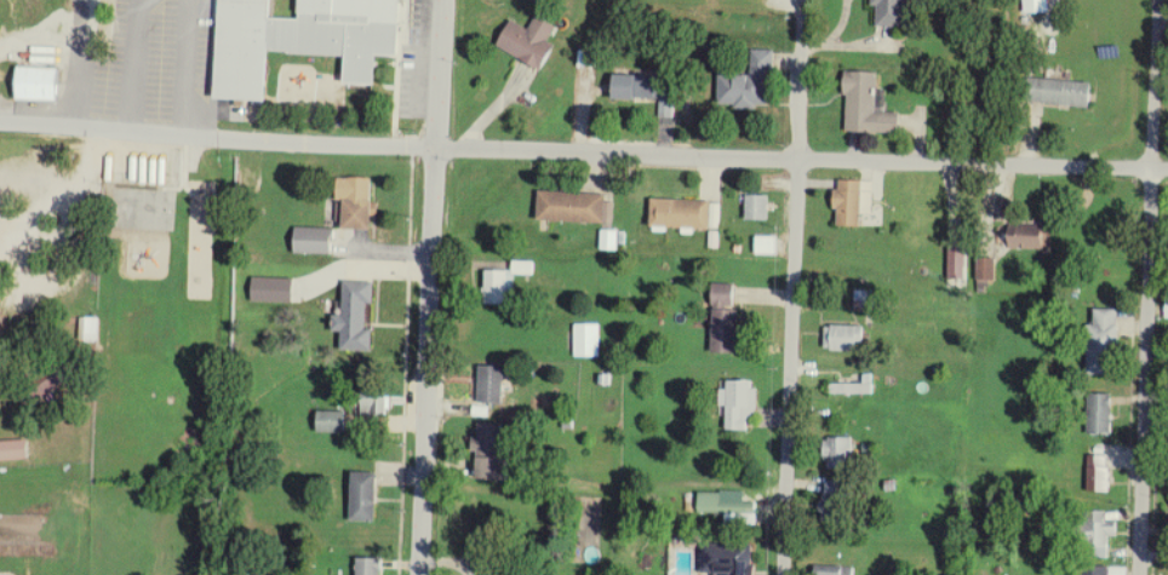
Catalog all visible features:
building: (144, 11)
building: (894, 13)
building: (302, 39)
building: (143, 40)
building: (532, 40)
building: (39, 82)
building: (750, 82)
building: (642, 85)
building: (155, 90)
building: (1060, 91)
building: (869, 104)
road: (219, 134)
road: (619, 151)
road: (983, 162)
building: (361, 202)
building: (849, 202)
building: (574, 206)
building: (757, 207)
building: (682, 213)
building: (1029, 235)
building: (316, 238)
building: (767, 245)
building: (989, 271)
building: (500, 286)
road: (434, 287)
road: (795, 287)
road: (1149, 287)
building: (267, 288)
building: (357, 315)
building: (726, 317)
building: (91, 328)
building: (844, 338)
building: (588, 339)
building: (1106, 343)
park: (50, 351)
building: (493, 385)
building: (852, 389)
building: (376, 402)
building: (742, 403)
building: (1101, 413)
building: (334, 421)
building: (15, 449)
building: (493, 450)
building: (840, 452)
building: (1101, 472)
building: (365, 495)
building: (836, 500)
building: (729, 507)
building: (1099, 534)
building: (729, 558)
building: (370, 565)
building: (836, 570)
building: (1104, 570)
building: (508, 574)

